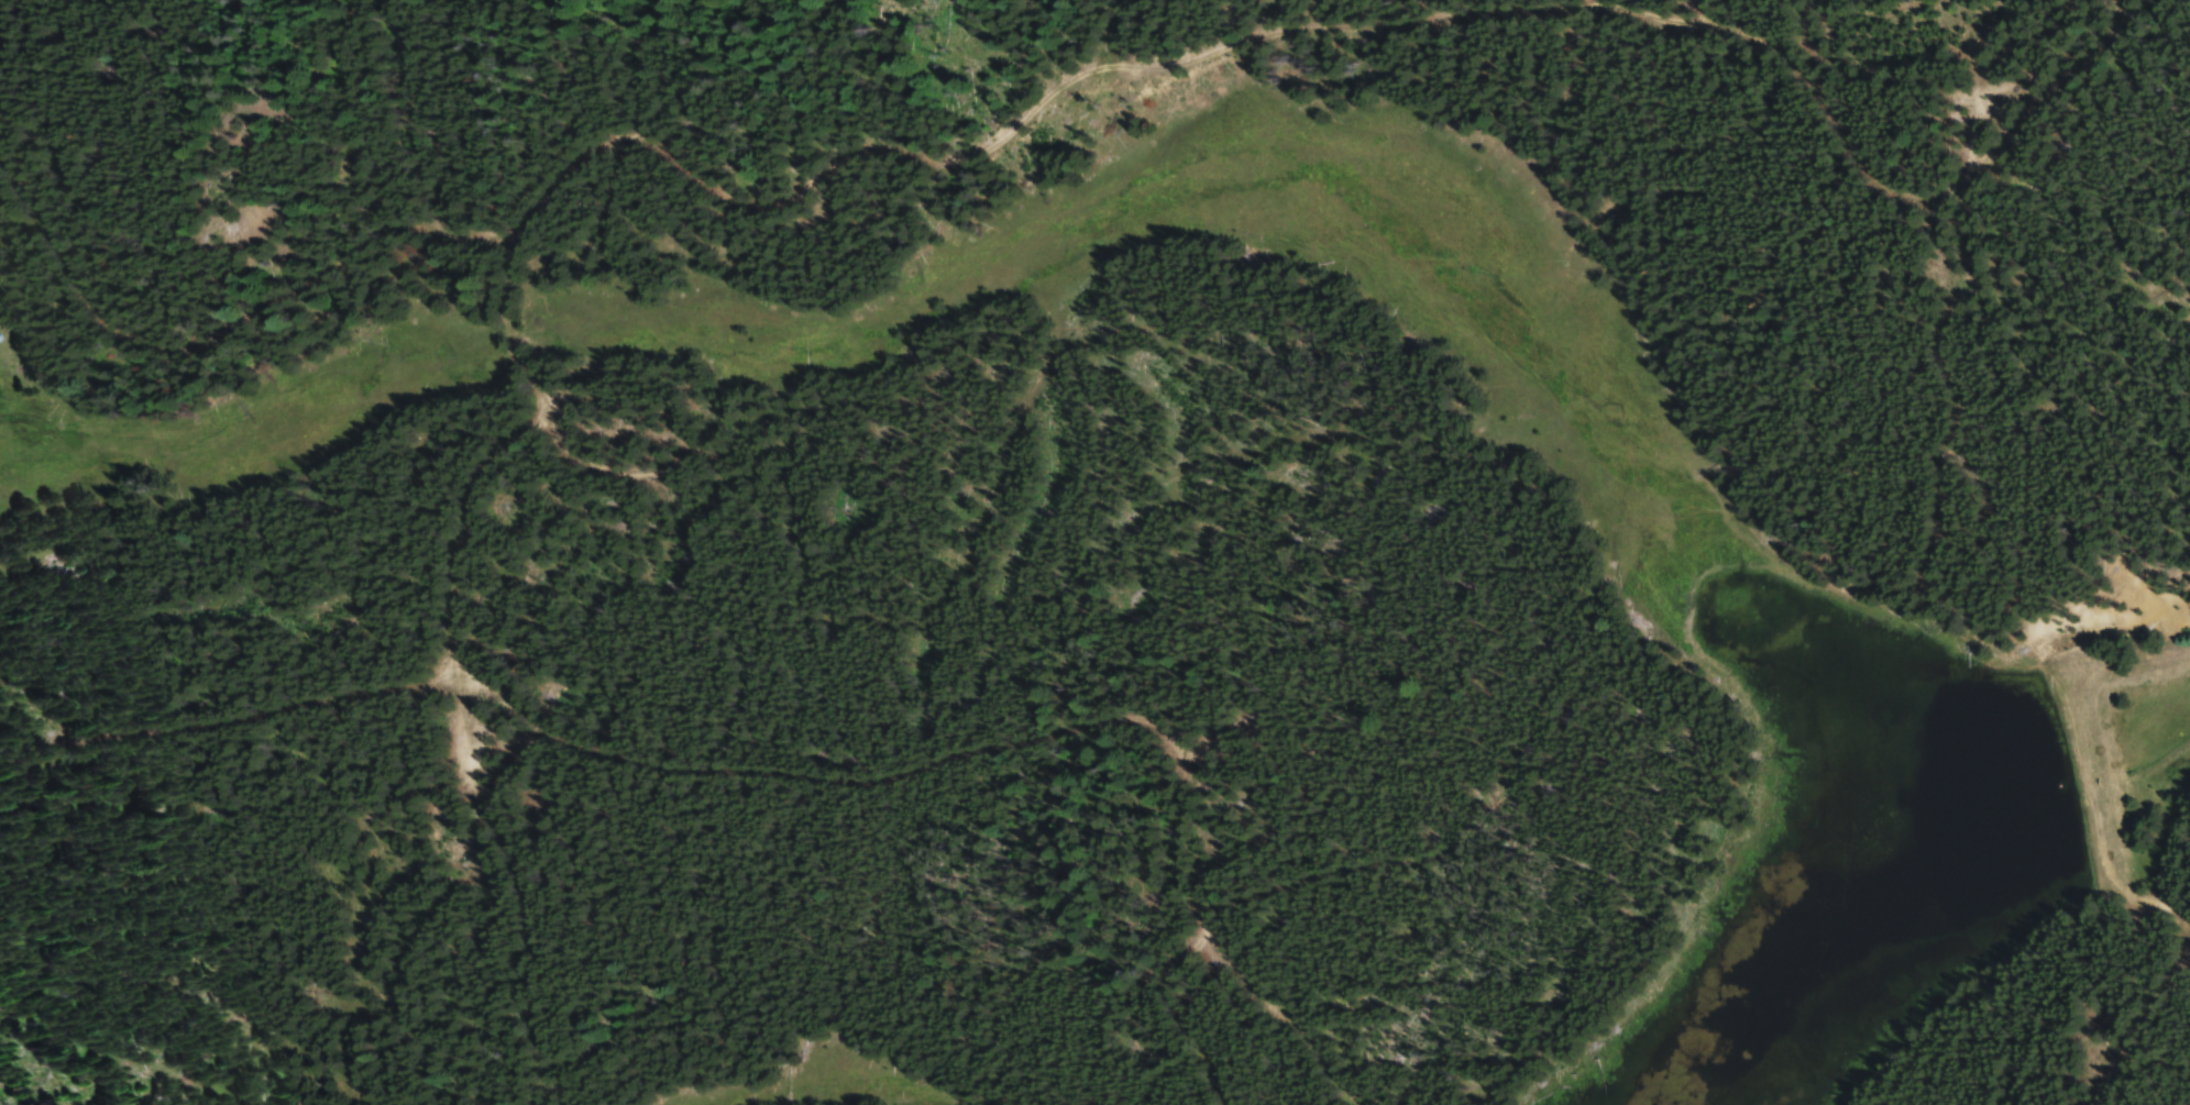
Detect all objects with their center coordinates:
road: (1053, 91)

